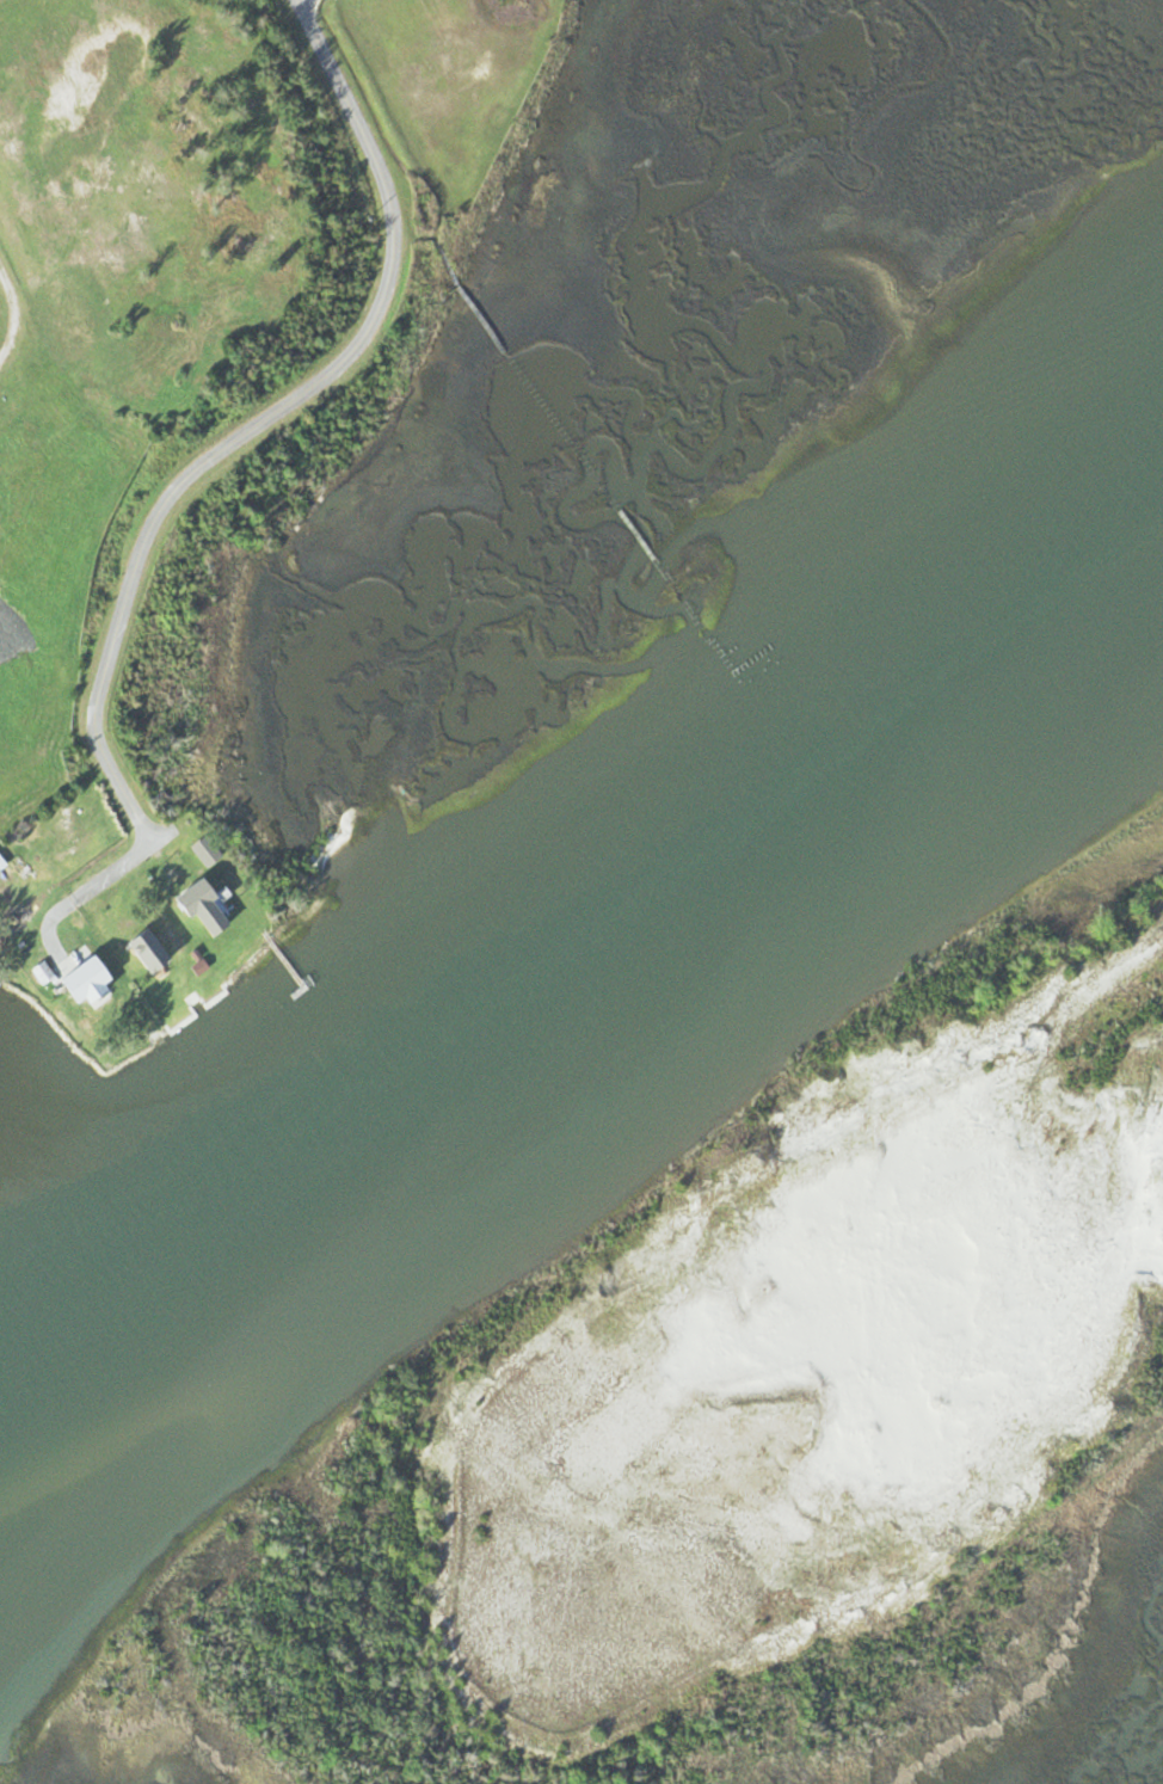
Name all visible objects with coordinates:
road: (11, 312)
road: (256, 422)
building: (201, 850)
building: (0, 863)
road: (119, 869)
building: (192, 902)
building: (140, 948)
building: (38, 971)
building: (78, 979)

